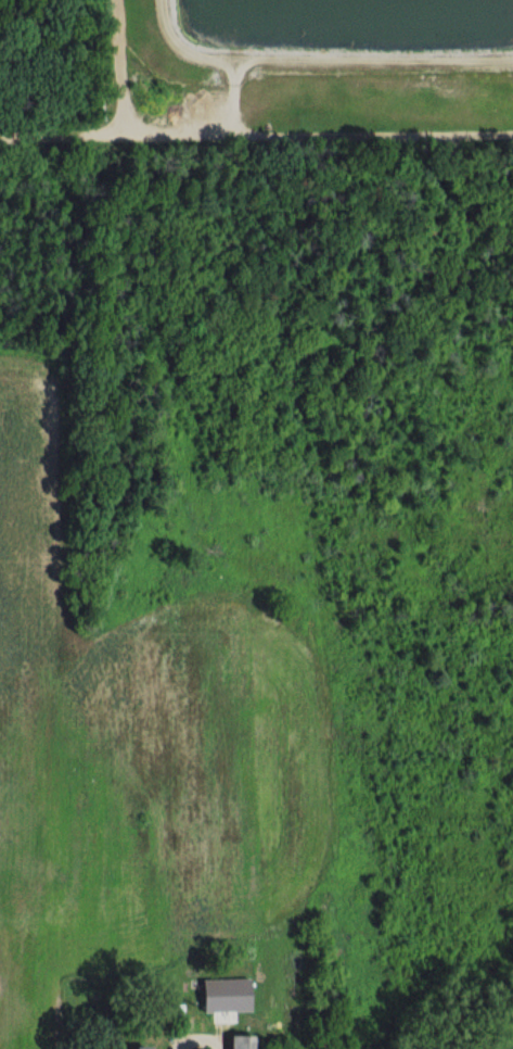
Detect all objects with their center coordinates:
road: (125, 66)
road: (306, 129)
road: (50, 132)
road: (195, 1038)
building: (236, 1041)
building: (138, 1047)

